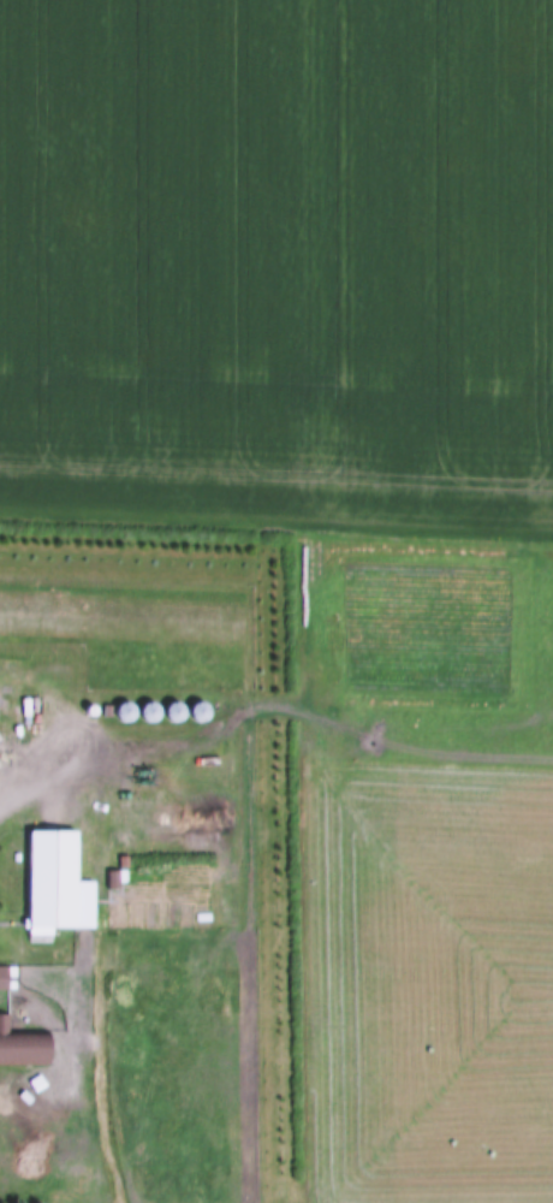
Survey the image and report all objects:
building: (48, 878)
building: (1, 976)
building: (20, 1045)

